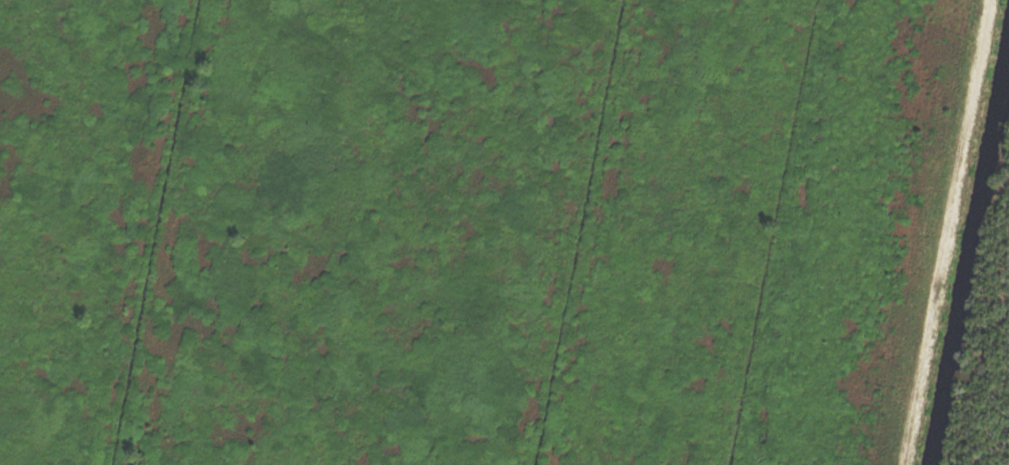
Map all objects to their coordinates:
road: (950, 232)

